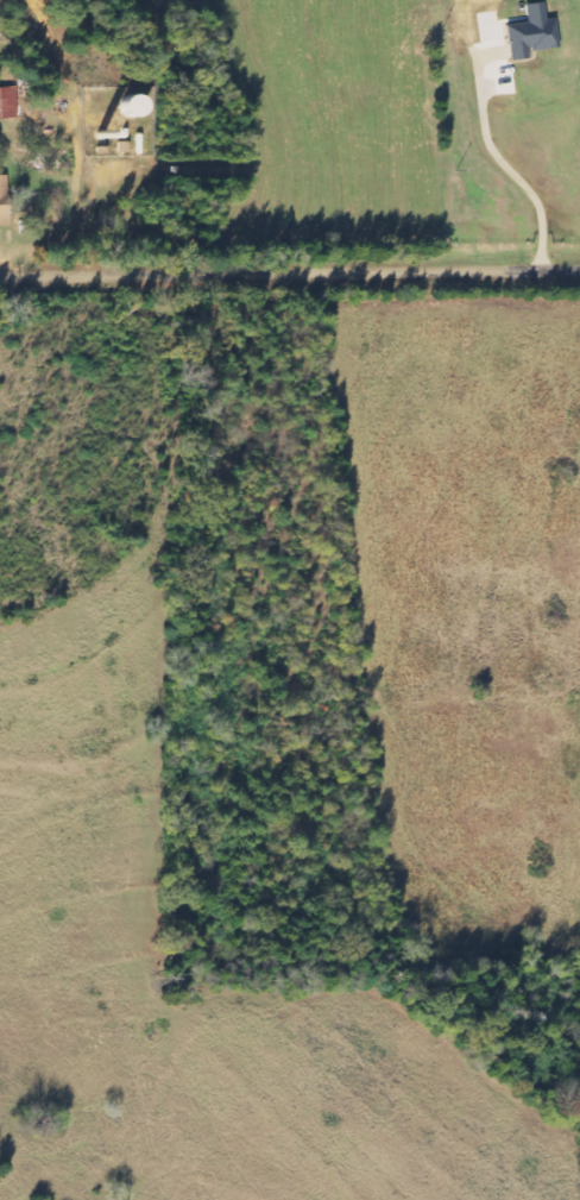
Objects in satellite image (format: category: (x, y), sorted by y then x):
building: (531, 38)
building: (7, 103)
building: (133, 107)
road: (497, 156)
building: (4, 202)
road: (72, 211)
road: (290, 268)

